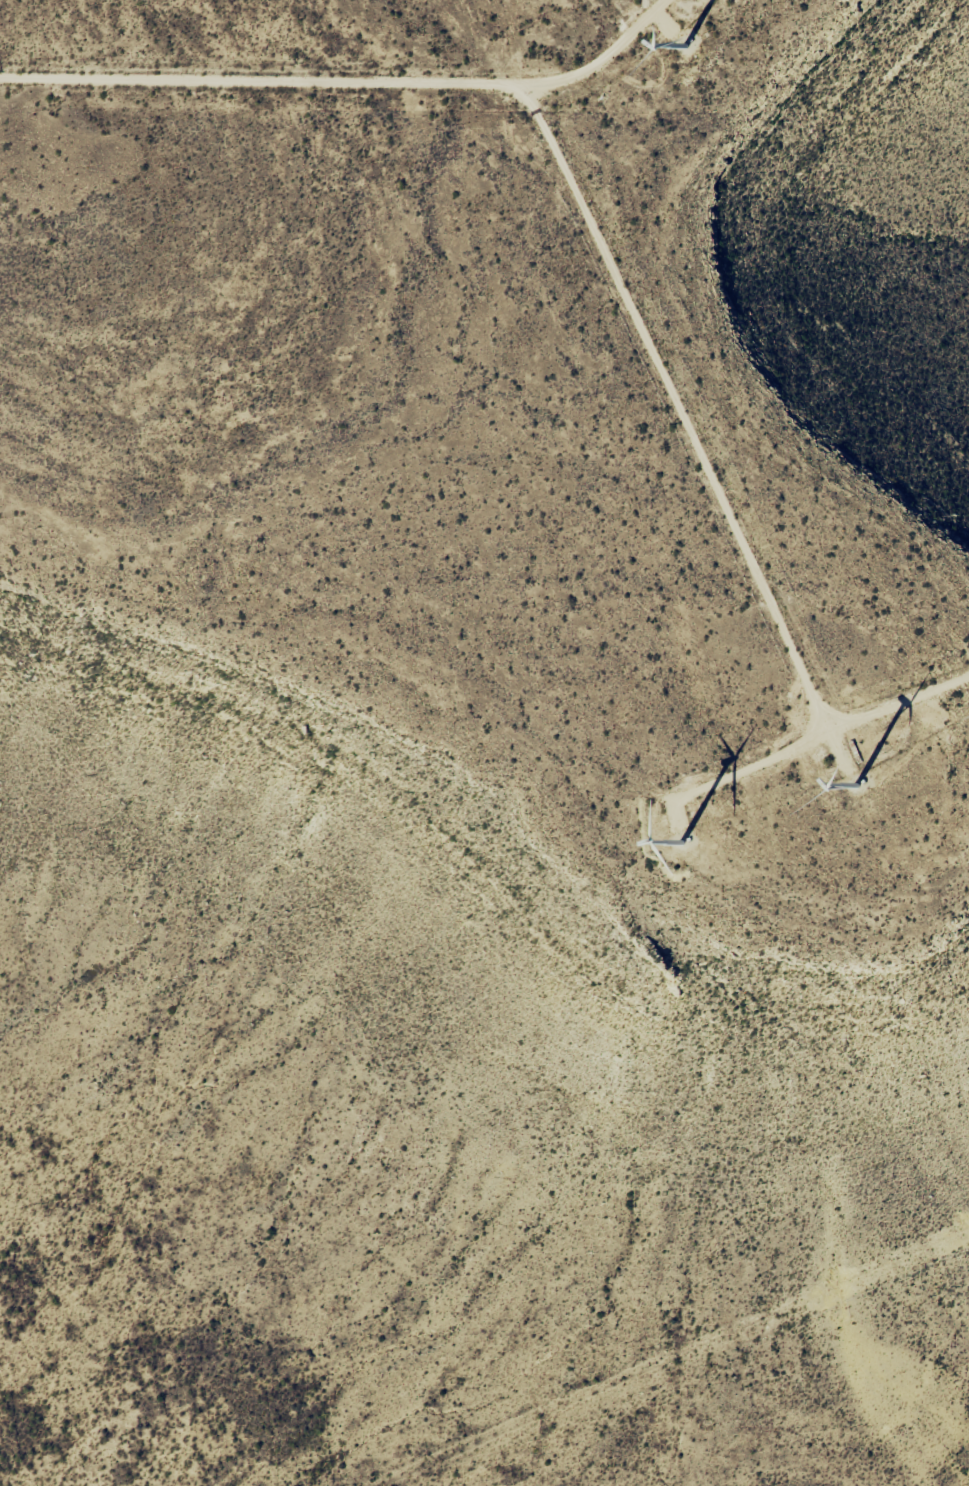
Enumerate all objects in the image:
wind turbine: (698, 54)
wind turbine: (854, 794)
wind turbine: (687, 849)

